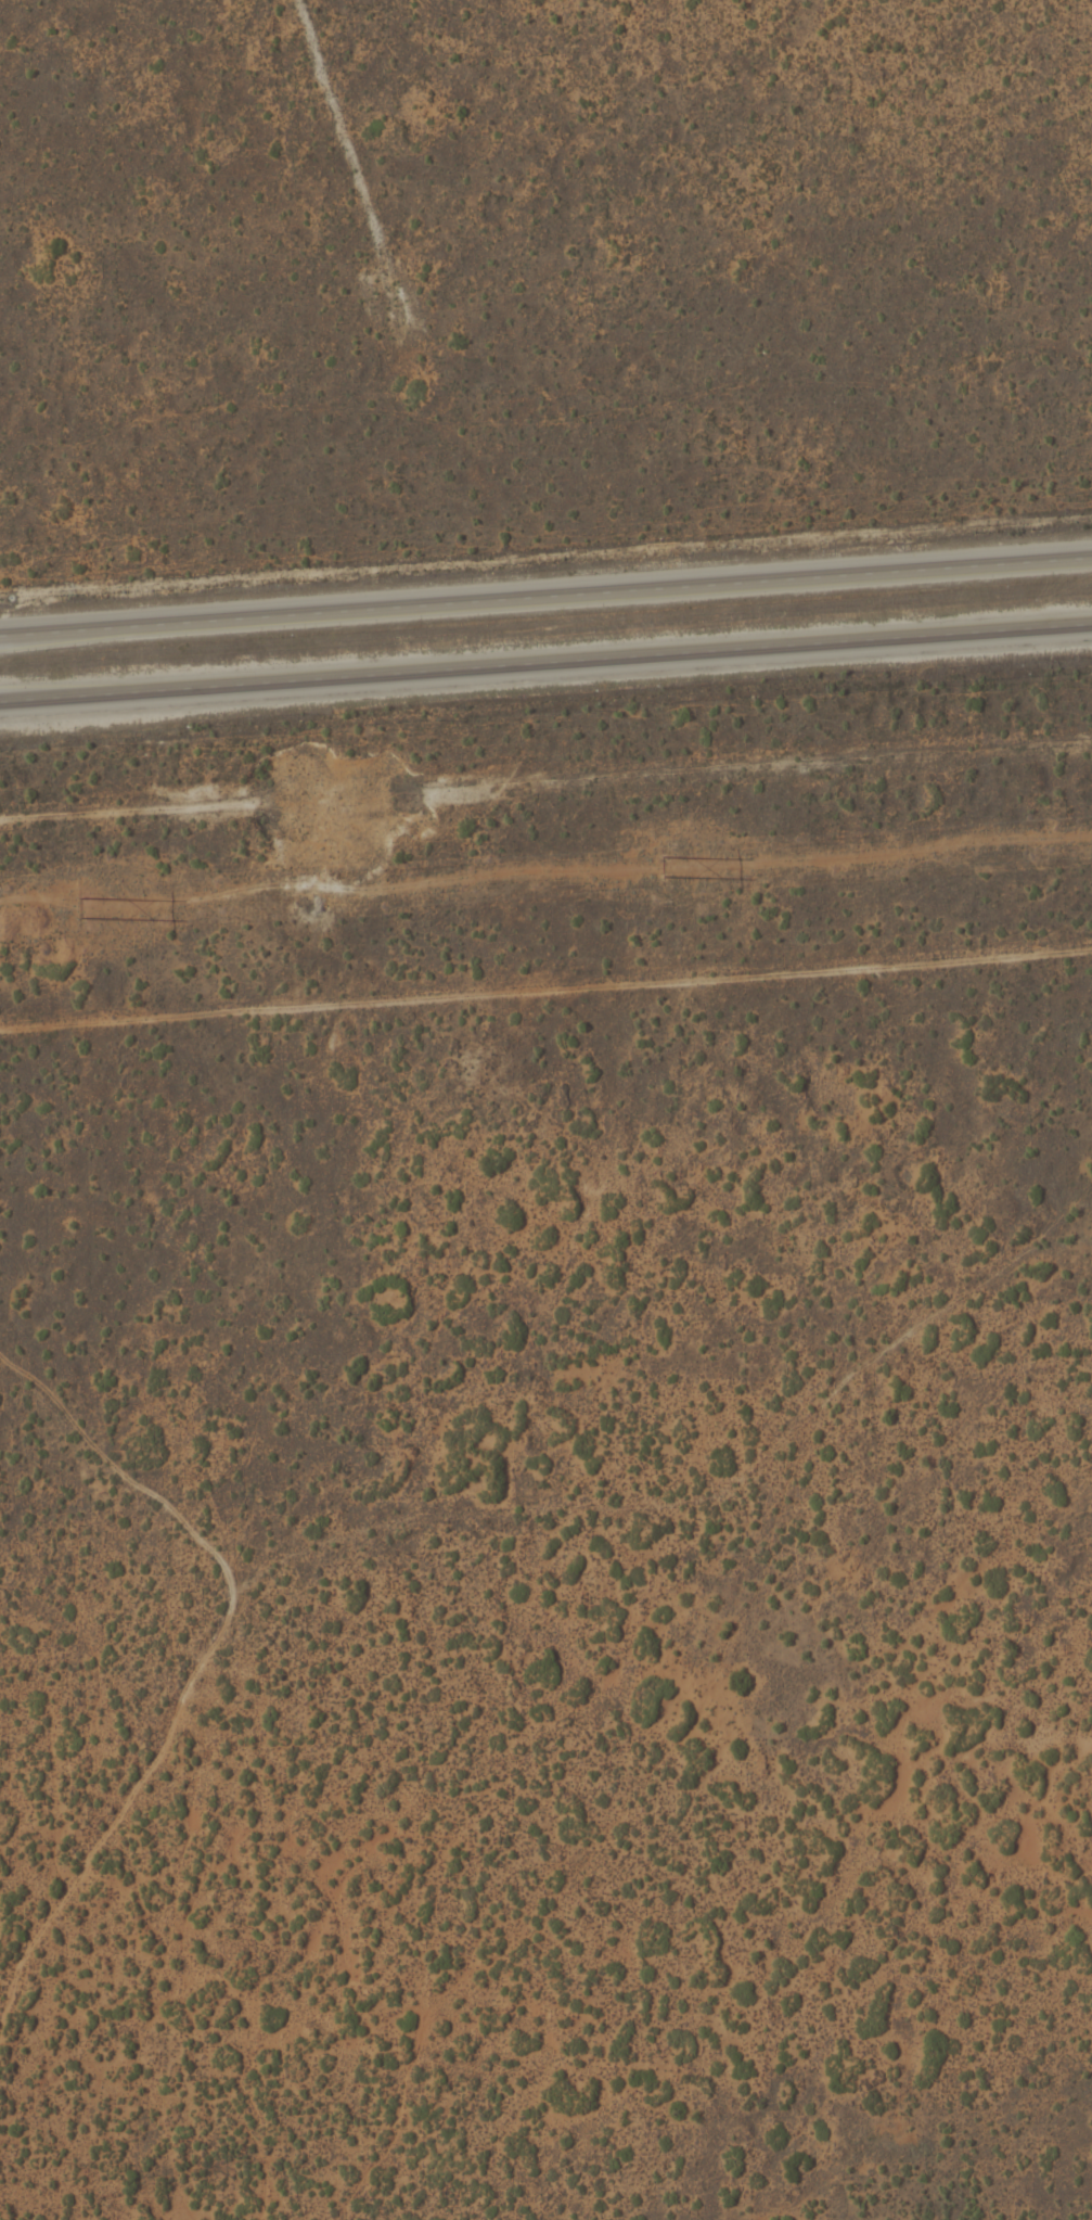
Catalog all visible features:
road: (545, 595)
road: (545, 661)
power tower: (658, 868)
power tower: (115, 913)
road: (237, 1741)

